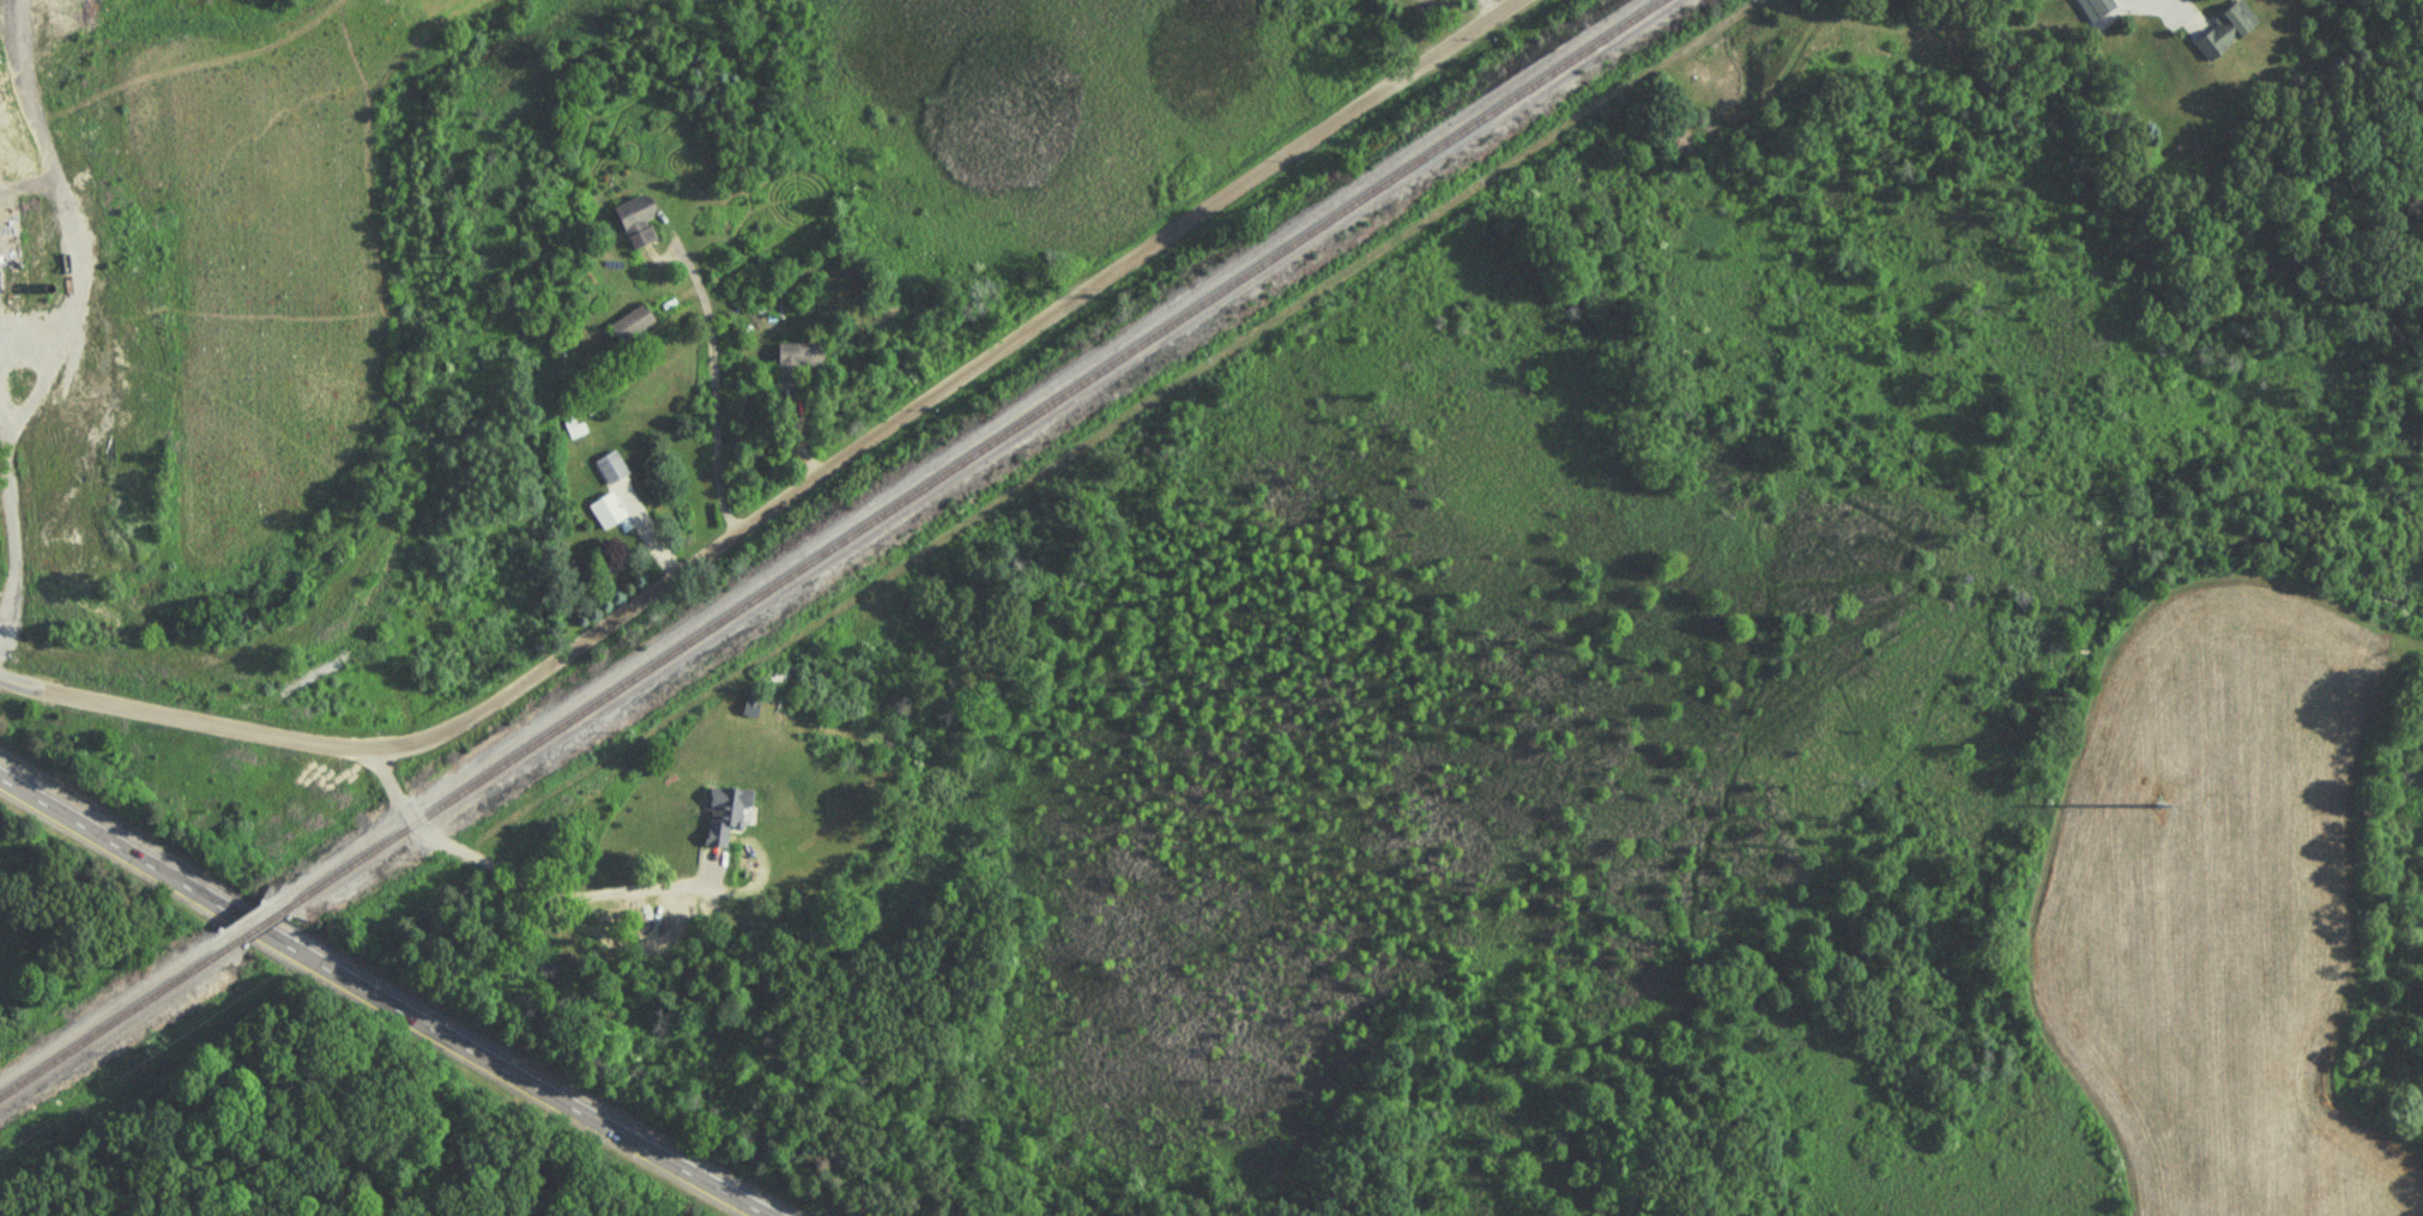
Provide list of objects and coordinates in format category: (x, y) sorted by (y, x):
building: (2101, 6)
road: (2181, 8)
building: (2228, 29)
road: (6, 60)
building: (636, 222)
building: (50, 249)
crop: (277, 255)
building: (632, 325)
building: (797, 363)
road: (713, 385)
railway: (963, 453)
building: (611, 470)
road: (10, 494)
road: (793, 495)
building: (606, 512)
building: (751, 706)
power tower: (2158, 806)
building: (725, 815)
road: (563, 909)
railway: (261, 924)
road: (383, 998)
railway: (119, 1018)

